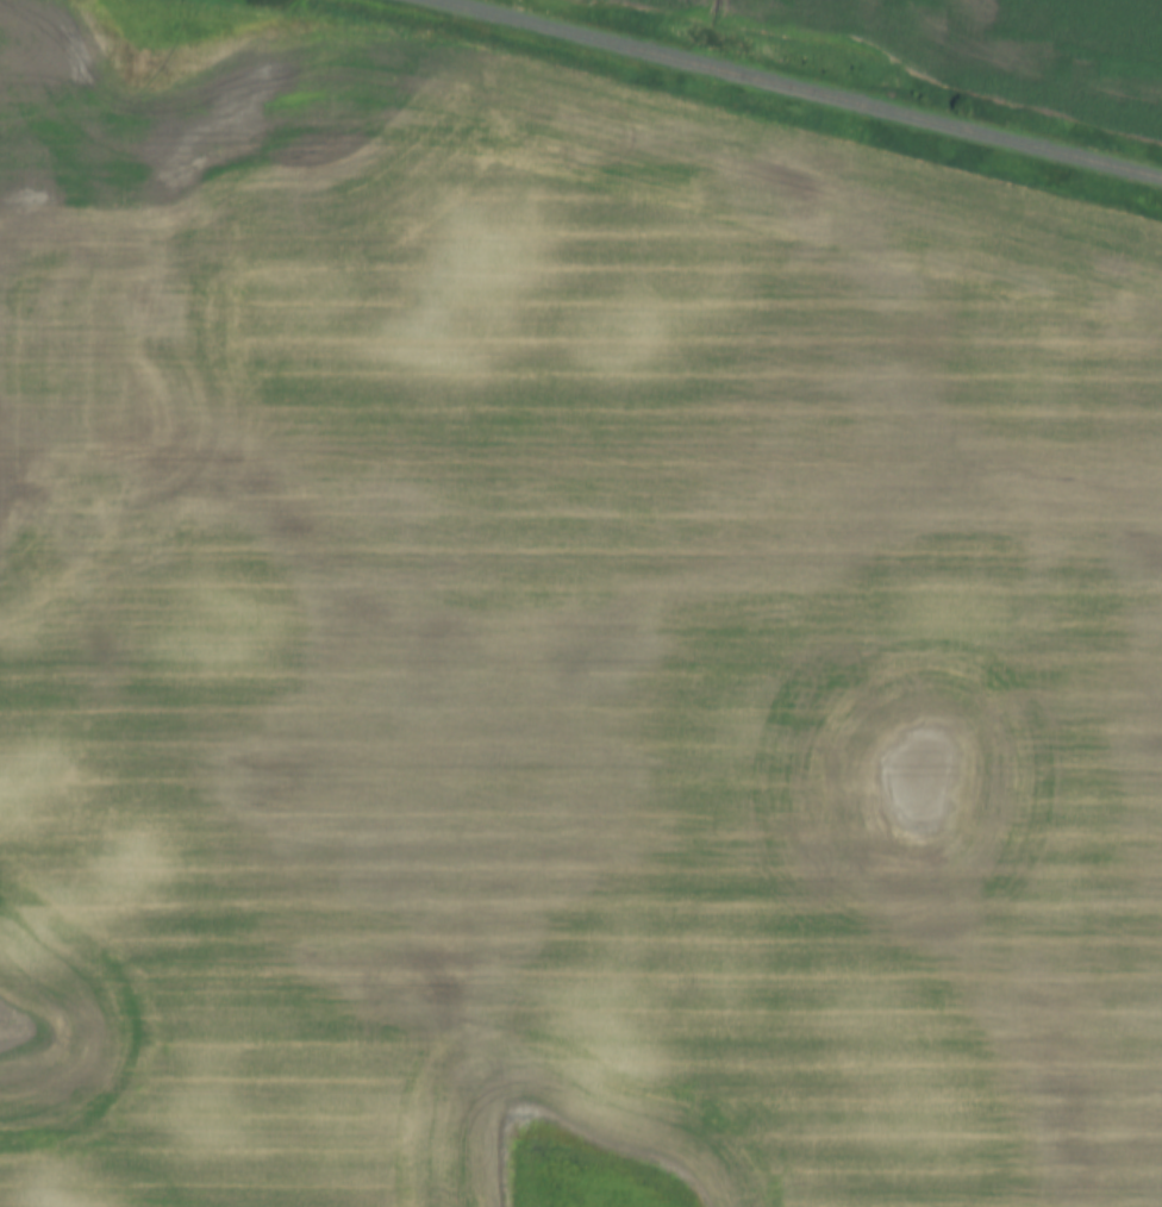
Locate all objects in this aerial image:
railway: (796, 89)

